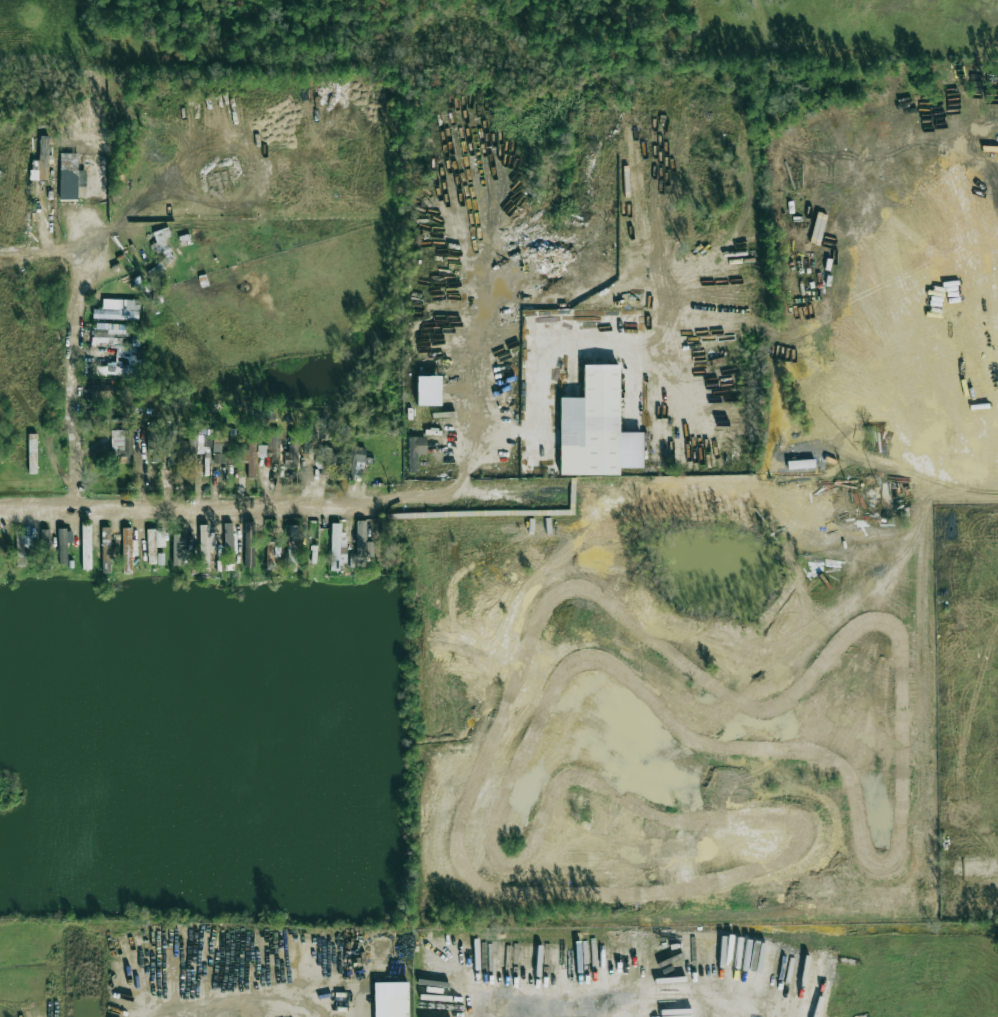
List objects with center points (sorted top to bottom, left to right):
building: (41, 162)
building: (70, 176)
building: (118, 309)
road: (575, 343)
road: (80, 354)
road: (482, 363)
building: (428, 391)
building: (596, 428)
building: (122, 445)
building: (170, 447)
building: (220, 447)
building: (415, 451)
building: (250, 459)
building: (356, 461)
road: (230, 503)
building: (228, 532)
building: (156, 538)
building: (206, 539)
building: (292, 539)
building: (363, 542)
building: (337, 545)
building: (178, 549)
road: (215, 986)
building: (390, 999)
road: (271, 1015)

